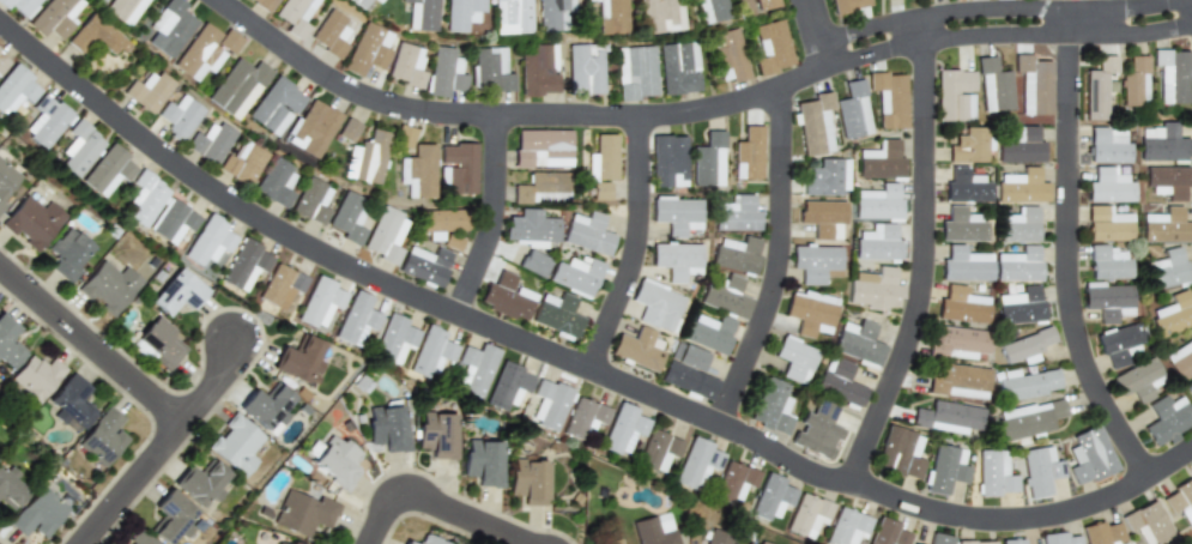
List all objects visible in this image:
building: (99, 0)
building: (374, 0)
road: (1100, 1)
building: (357, 2)
building: (262, 4)
building: (18, 5)
building: (754, 5)
building: (847, 5)
road: (984, 5)
building: (123, 10)
building: (707, 10)
building: (458, 13)
building: (417, 14)
building: (550, 14)
building: (294, 16)
building: (508, 16)
building: (607, 16)
building: (658, 16)
building: (54, 17)
building: (169, 26)
road: (817, 26)
building: (328, 34)
building: (95, 36)
road: (1008, 41)
building: (770, 47)
building: (365, 49)
building: (204, 52)
building: (2, 61)
building: (405, 65)
building: (677, 67)
building: (489, 69)
building: (536, 69)
building: (583, 69)
building: (443, 72)
building: (634, 72)
building: (1172, 75)
building: (1134, 80)
building: (1034, 84)
building: (236, 86)
building: (993, 86)
building: (1099, 87)
building: (16, 89)
building: (145, 90)
building: (955, 95)
building: (889, 99)
building: (274, 105)
building: (853, 111)
road: (515, 115)
building: (177, 116)
building: (44, 120)
building: (815, 123)
building: (310, 128)
building: (346, 129)
building: (403, 135)
building: (210, 141)
building: (1162, 143)
building: (1107, 145)
building: (968, 146)
building: (1021, 146)
building: (541, 147)
building: (78, 149)
building: (749, 153)
building: (364, 158)
building: (601, 158)
building: (667, 161)
building: (708, 161)
building: (881, 161)
building: (242, 163)
building: (458, 167)
building: (105, 170)
building: (827, 177)
building: (6, 180)
building: (1168, 181)
building: (274, 182)
building: (966, 186)
building: (1108, 186)
building: (1022, 187)
building: (540, 188)
building: (599, 191)
building: (144, 198)
building: (310, 201)
building: (877, 203)
building: (736, 213)
building: (676, 214)
building: (347, 217)
road: (491, 217)
building: (823, 217)
building: (32, 220)
building: (173, 220)
building: (1107, 224)
building: (961, 225)
building: (1018, 225)
building: (443, 226)
building: (1166, 226)
building: (530, 228)
building: (586, 232)
building: (385, 235)
building: (208, 242)
building: (877, 243)
road: (635, 246)
road: (1069, 249)
road: (925, 253)
building: (68, 254)
building: (736, 254)
building: (674, 260)
building: (533, 262)
road: (777, 262)
building: (816, 262)
building: (1107, 262)
building: (244, 265)
building: (424, 265)
building: (964, 265)
building: (1018, 265)
street lamp: (30, 266)
building: (1167, 268)
building: (575, 274)
building: (109, 286)
building: (280, 286)
building: (875, 289)
building: (177, 292)
building: (725, 295)
building: (506, 297)
building: (1107, 301)
building: (320, 302)
building: (655, 304)
building: (961, 306)
building: (1019, 306)
building: (811, 313)
building: (1173, 313)
building: (556, 314)
building: (356, 319)
building: (709, 332)
building: (394, 339)
building: (161, 341)
building: (956, 341)
building: (8, 343)
building: (858, 343)
road: (92, 344)
building: (1027, 344)
building: (1118, 344)
building: (637, 349)
building: (430, 352)
building: (795, 359)
building: (1180, 359)
building: (299, 361)
road: (571, 361)
building: (474, 368)
building: (688, 371)
building: (36, 376)
building: (1137, 380)
building: (839, 381)
building: (960, 381)
building: (1027, 383)
building: (507, 386)
building: (1188, 387)
street lamp: (120, 393)
building: (69, 403)
building: (547, 404)
building: (267, 406)
building: (772, 406)
building: (948, 417)
building: (582, 418)
building: (1029, 418)
building: (1167, 418)
building: (387, 427)
building: (622, 429)
building: (817, 430)
building: (436, 434)
building: (103, 437)
street lamp: (199, 439)
building: (236, 445)
road: (165, 446)
building: (656, 451)
building: (900, 453)
building: (1089, 455)
building: (337, 461)
building: (483, 461)
building: (696, 464)
building: (945, 469)
building: (1039, 470)
building: (994, 473)
building: (527, 480)
building: (734, 480)
building: (200, 482)
building: (56, 485)
building: (11, 488)
building: (598, 491)
building: (772, 497)
street lamp: (96, 498)
building: (1180, 501)
road: (438, 503)
building: (38, 513)
building: (303, 513)
street lamp: (508, 514)
building: (807, 515)
building: (173, 518)
building: (1146, 522)
street lamp: (403, 524)
building: (847, 527)
building: (651, 532)
building: (888, 532)
building: (1102, 533)
building: (715, 537)
building: (140, 538)
building: (939, 538)
building: (1059, 538)
building: (429, 540)
building: (615, 540)
building: (975, 542)
building: (1012, 542)
building: (284, 543)
building: (409, 543)
building: (760, 543)
building: (912, 543)

